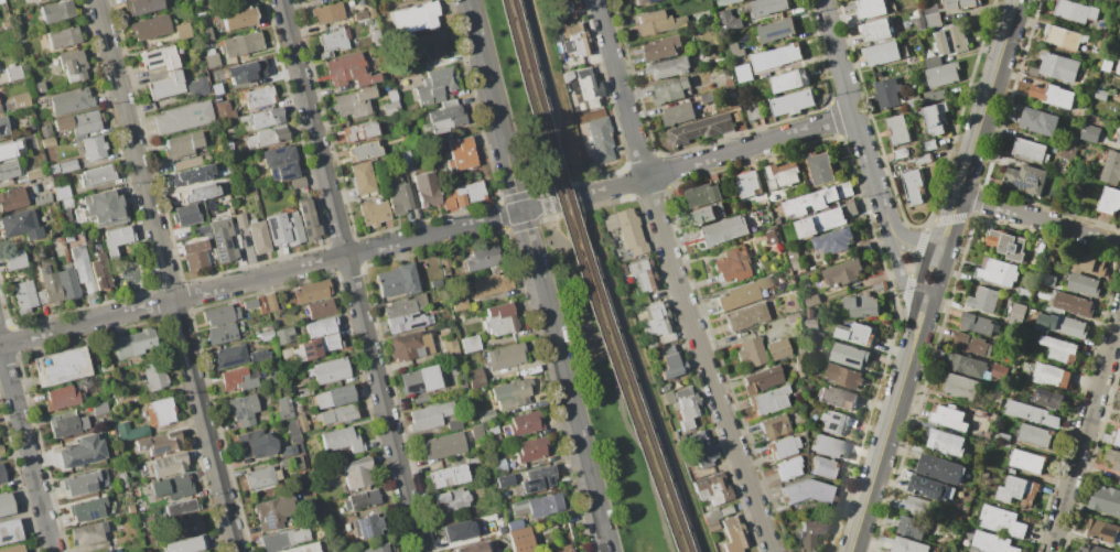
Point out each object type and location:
building: (37, 0)
building: (40, 0)
building: (2, 1)
building: (312, 1)
building: (223, 2)
building: (643, 2)
building: (726, 2)
building: (960, 4)
building: (142, 6)
building: (768, 7)
building: (570, 9)
building: (871, 9)
building: (57, 11)
building: (1075, 12)
building: (327, 13)
building: (371, 14)
building: (201, 15)
building: (360, 15)
building: (931, 17)
building: (416, 18)
building: (235, 19)
building: (558, 19)
building: (729, 21)
building: (654, 22)
building: (679, 22)
building: (920, 23)
building: (151, 28)
building: (183, 30)
building: (776, 30)
building: (876, 31)
building: (205, 35)
building: (63, 37)
building: (1062, 37)
building: (956, 39)
building: (578, 40)
building: (918, 41)
building: (334, 42)
building: (353, 42)
building: (943, 43)
building: (241, 44)
building: (430, 45)
building: (661, 48)
building: (736, 50)
building: (882, 54)
building: (782, 56)
road: (838, 57)
building: (160, 58)
building: (212, 58)
building: (933, 61)
building: (74, 66)
building: (1058, 66)
building: (670, 68)
building: (1118, 68)
building: (252, 71)
building: (349, 72)
building: (13, 73)
building: (743, 73)
building: (943, 75)
building: (568, 76)
building: (212, 78)
building: (790, 80)
building: (729, 83)
building: (438, 85)
building: (166, 86)
building: (39, 87)
building: (198, 87)
building: (590, 88)
building: (220, 89)
building: (671, 89)
park: (537, 91)
building: (887, 93)
building: (732, 95)
building: (1053, 95)
building: (1100, 95)
building: (935, 96)
building: (259, 97)
building: (708, 97)
road: (987, 97)
building: (22, 101)
building: (71, 101)
road: (550, 101)
building: (354, 102)
building: (791, 102)
building: (913, 102)
building: (391, 109)
building: (225, 110)
building: (753, 111)
building: (678, 115)
building: (737, 116)
building: (184, 117)
building: (445, 117)
building: (935, 118)
building: (265, 119)
building: (1040, 121)
building: (80, 122)
building: (3, 127)
building: (426, 127)
building: (700, 129)
building: (897, 130)
building: (46, 131)
building: (358, 131)
building: (1090, 132)
building: (1111, 133)
building: (266, 139)
building: (601, 139)
building: (50, 142)
building: (183, 145)
building: (94, 148)
building: (12, 149)
rooftop solar panel: (281, 149)
building: (364, 151)
building: (1031, 151)
building: (462, 152)
building: (900, 153)
building: (1067, 153)
building: (279, 155)
building: (410, 158)
building: (234, 159)
building: (924, 160)
road: (868, 162)
building: (186, 164)
rooftop solar panel: (284, 165)
building: (68, 166)
building: (1107, 166)
building: (821, 169)
building: (9, 170)
building: (283, 172)
building: (34, 174)
building: (475, 174)
building: (96, 175)
building: (193, 175)
rooftop solar panel: (284, 175)
building: (782, 175)
rooftop solar panel: (1031, 177)
building: (364, 178)
building: (1024, 180)
building: (22, 181)
building: (298, 183)
building: (750, 184)
rooftop solar panel: (1019, 185)
building: (912, 186)
building: (231, 188)
building: (427, 190)
road: (600, 190)
building: (197, 192)
building: (463, 195)
building: (703, 195)
building: (64, 196)
building: (398, 196)
building: (12, 198)
building: (43, 199)
building: (817, 199)
building: (1109, 202)
building: (105, 208)
building: (374, 213)
building: (709, 214)
building: (186, 215)
building: (212, 215)
building: (240, 220)
building: (251, 220)
building: (309, 220)
building: (828, 220)
road: (1038, 220)
building: (778, 221)
building: (21, 225)
road: (948, 225)
building: (283, 228)
building: (203, 230)
building: (627, 230)
building: (724, 231)
building: (259, 237)
building: (772, 237)
road: (906, 237)
building: (68, 239)
building: (223, 239)
building: (117, 240)
building: (60, 241)
building: (833, 241)
building: (1005, 245)
road: (911, 250)
traffic signals: (913, 251)
building: (195, 255)
building: (482, 258)
building: (794, 259)
building: (15, 260)
road: (895, 260)
building: (445, 261)
building: (1089, 264)
building: (732, 266)
building: (82, 268)
building: (622, 270)
road: (922, 271)
building: (100, 272)
building: (843, 272)
building: (997, 273)
park: (132, 274)
building: (644, 274)
road: (166, 275)
road: (348, 275)
road: (537, 275)
road: (940, 277)
railway: (584, 278)
railway: (594, 278)
road: (678, 278)
building: (397, 281)
building: (1047, 281)
building: (67, 283)
building: (439, 283)
building: (492, 284)
building: (1084, 284)
building: (51, 286)
road: (578, 286)
building: (877, 286)
building: (313, 292)
building: (1024, 293)
building: (742, 294)
building: (24, 297)
building: (41, 299)
road: (171, 300)
building: (982, 300)
building: (812, 301)
building: (420, 302)
building: (459, 302)
building: (249, 303)
building: (271, 303)
building: (797, 303)
building: (1070, 304)
building: (262, 305)
building: (861, 305)
building: (398, 307)
building: (320, 310)
building: (220, 314)
building: (807, 314)
building: (1015, 314)
building: (746, 317)
building: (286, 320)
building: (500, 320)
building: (795, 321)
building: (408, 322)
building: (1042, 322)
building: (659, 323)
building: (811, 323)
building: (977, 324)
building: (1067, 326)
building: (321, 327)
building: (226, 333)
building: (855, 334)
building: (267, 335)
building: (283, 335)
building: (134, 343)
building: (329, 343)
building: (653, 343)
building: (471, 344)
building: (412, 345)
building: (972, 345)
building: (249, 347)
building: (450, 348)
building: (306, 349)
building: (778, 349)
building: (810, 349)
building: (1059, 349)
building: (800, 350)
building: (751, 351)
building: (258, 356)
building: (506, 356)
building: (849, 356)
building: (229, 357)
building: (671, 362)
road: (593, 364)
building: (799, 365)
building: (968, 366)
building: (64, 367)
building: (106, 367)
building: (809, 367)
road: (635, 368)
building: (330, 371)
building: (998, 371)
building: (153, 375)
building: (843, 376)
building: (1051, 376)
building: (475, 378)
building: (762, 379)
building: (237, 380)
building: (419, 380)
building: (463, 382)
building: (960, 387)
building: (304, 392)
building: (513, 393)
park: (622, 394)
building: (831, 396)
building: (62, 398)
building: (128, 398)
building: (333, 398)
building: (667, 398)
building: (1047, 399)
rooftop solar panel: (238, 401)
building: (769, 401)
building: (848, 401)
building: (688, 402)
building: (100, 409)
building: (284, 409)
building: (243, 410)
building: (160, 412)
building: (1032, 413)
building: (337, 415)
building: (487, 415)
rooftop solar panel: (833, 415)
rooftop solar panel: (238, 416)
building: (430, 416)
building: (949, 418)
building: (1119, 419)
building: (302, 423)
building: (526, 423)
building: (837, 423)
road: (887, 423)
building: (454, 424)
building: (687, 424)
rooftop solar panel: (829, 424)
building: (67, 425)
building: (775, 426)
building: (494, 430)
building: (130, 432)
building: (293, 432)
building: (1034, 435)
road: (1084, 436)
building: (1002, 437)
building: (1109, 437)
building: (342, 440)
building: (1117, 440)
building: (496, 441)
building: (946, 442)
building: (159, 444)
building: (256, 444)
rooftop solar panel: (140, 446)
building: (443, 446)
building: (827, 446)
building: (785, 447)
building: (1, 450)
road: (25, 450)
rooftop solar panel: (160, 450)
building: (532, 450)
road: (640, 450)
building: (703, 450)
building: (288, 451)
building: (74, 455)
building: (472, 458)
building: (1113, 459)
building: (1027, 462)
building: (290, 464)
building: (169, 465)
building: (499, 466)
building: (822, 467)
building: (788, 468)
building: (940, 468)
building: (2, 474)
building: (358, 474)
building: (448, 476)
building: (262, 478)
building: (540, 478)
building: (123, 479)
building: (505, 480)
building: (86, 481)
building: (1119, 481)
building: (176, 486)
building: (926, 487)
building: (713, 488)
building: (1013, 489)
building: (806, 491)
building: (1030, 497)
building: (452, 499)
building: (363, 500)
building: (1106, 501)
building: (149, 504)
building: (6, 505)
building: (546, 505)
building: (957, 505)
building: (917, 506)
building: (138, 507)
building: (181, 507)
building: (520, 508)
building: (91, 509)
building: (131, 509)
building: (726, 510)
building: (313, 511)
rooftop solar panel: (91, 515)
building: (270, 515)
building: (712, 515)
rooftop solar panel: (269, 520)
building: (1001, 522)
building: (516, 524)
building: (186, 526)
building: (370, 526)
building: (713, 527)
building: (912, 527)
building: (335, 528)
rooftop solar panel: (360, 528)
building: (457, 531)
building: (1103, 531)
building: (9, 532)
building: (89, 533)
building: (809, 533)
building: (734, 534)
building: (288, 539)
building: (521, 540)
building: (990, 543)
building: (187, 544)
building: (907, 545)
building: (378, 548)
building: (471, 548)
building: (13, 549)
building: (304, 549)
building: (1095, 549)
building: (568, 550)
building: (105, 551)

